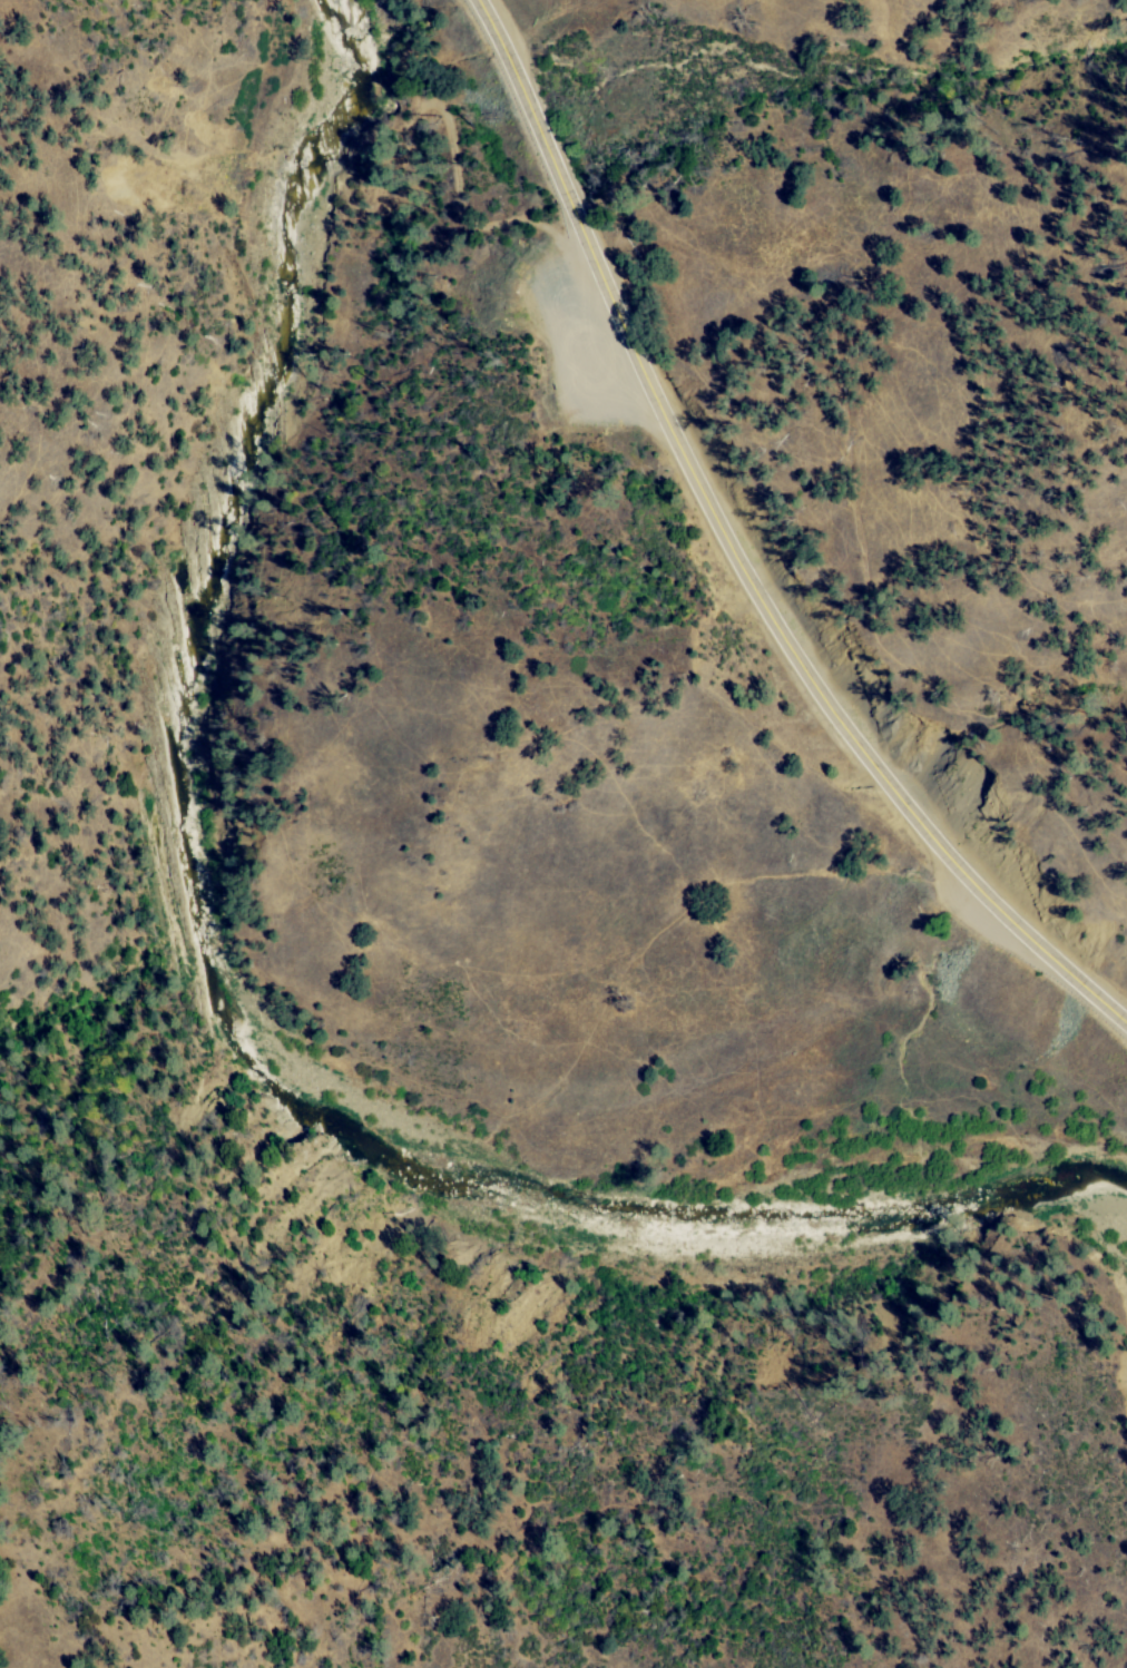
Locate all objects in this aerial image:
road: (731, 558)
parking lot: (964, 900)

